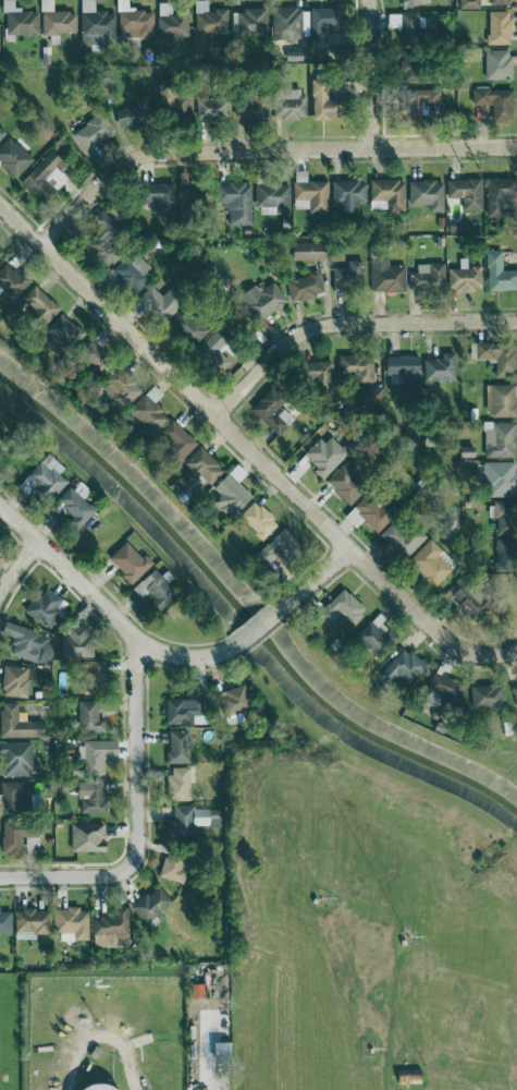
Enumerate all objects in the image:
building: (495, 1)
building: (408, 2)
building: (466, 3)
building: (210, 19)
building: (22, 20)
building: (58, 20)
building: (0, 21)
building: (170, 21)
building: (250, 22)
building: (402, 22)
building: (287, 23)
building: (97, 24)
building: (321, 25)
building: (495, 26)
building: (494, 62)
building: (404, 66)
road: (368, 73)
building: (325, 100)
building: (492, 101)
building: (175, 102)
building: (292, 105)
building: (212, 107)
building: (253, 107)
building: (135, 113)
building: (94, 132)
building: (1, 134)
road: (259, 148)
building: (14, 156)
building: (48, 171)
building: (464, 192)
building: (310, 193)
building: (423, 193)
building: (496, 193)
building: (347, 194)
building: (384, 194)
building: (163, 195)
building: (196, 196)
building: (273, 198)
building: (237, 201)
building: (106, 238)
building: (310, 250)
building: (1, 252)
building: (134, 272)
building: (497, 272)
building: (349, 276)
building: (384, 276)
building: (424, 276)
building: (463, 278)
building: (12, 280)
building: (306, 286)
building: (263, 300)
building: (40, 303)
building: (161, 303)
road: (346, 322)
building: (192, 325)
building: (66, 331)
building: (218, 349)
building: (494, 355)
building: (98, 356)
building: (356, 365)
building: (436, 366)
building: (373, 367)
building: (401, 367)
building: (322, 374)
building: (123, 387)
building: (368, 396)
building: (497, 399)
building: (273, 411)
building: (150, 414)
building: (4, 429)
building: (180, 438)
building: (496, 438)
building: (463, 450)
road: (248, 451)
building: (327, 453)
building: (201, 469)
building: (496, 477)
building: (46, 479)
building: (349, 482)
building: (233, 495)
building: (371, 512)
building: (502, 517)
building: (259, 520)
building: (403, 536)
building: (280, 548)
building: (502, 548)
building: (130, 561)
building: (431, 562)
road: (17, 566)
road: (315, 578)
building: (157, 590)
building: (473, 601)
building: (47, 608)
road: (106, 608)
building: (343, 608)
river: (242, 614)
road: (258, 626)
building: (377, 635)
building: (78, 642)
building: (30, 644)
building: (95, 667)
building: (404, 667)
building: (16, 681)
building: (446, 687)
building: (513, 693)
building: (485, 697)
building: (236, 700)
building: (184, 711)
building: (90, 716)
building: (19, 723)
building: (181, 747)
building: (69, 750)
road: (136, 752)
building: (93, 756)
building: (16, 759)
building: (180, 782)
building: (14, 796)
building: (93, 797)
building: (193, 820)
building: (17, 835)
building: (88, 837)
building: (174, 867)
road: (66, 875)
building: (152, 905)
building: (5, 922)
building: (32, 922)
building: (72, 923)
building: (111, 930)
road: (204, 1034)
road: (99, 1038)
building: (217, 1049)
building: (90, 1087)

